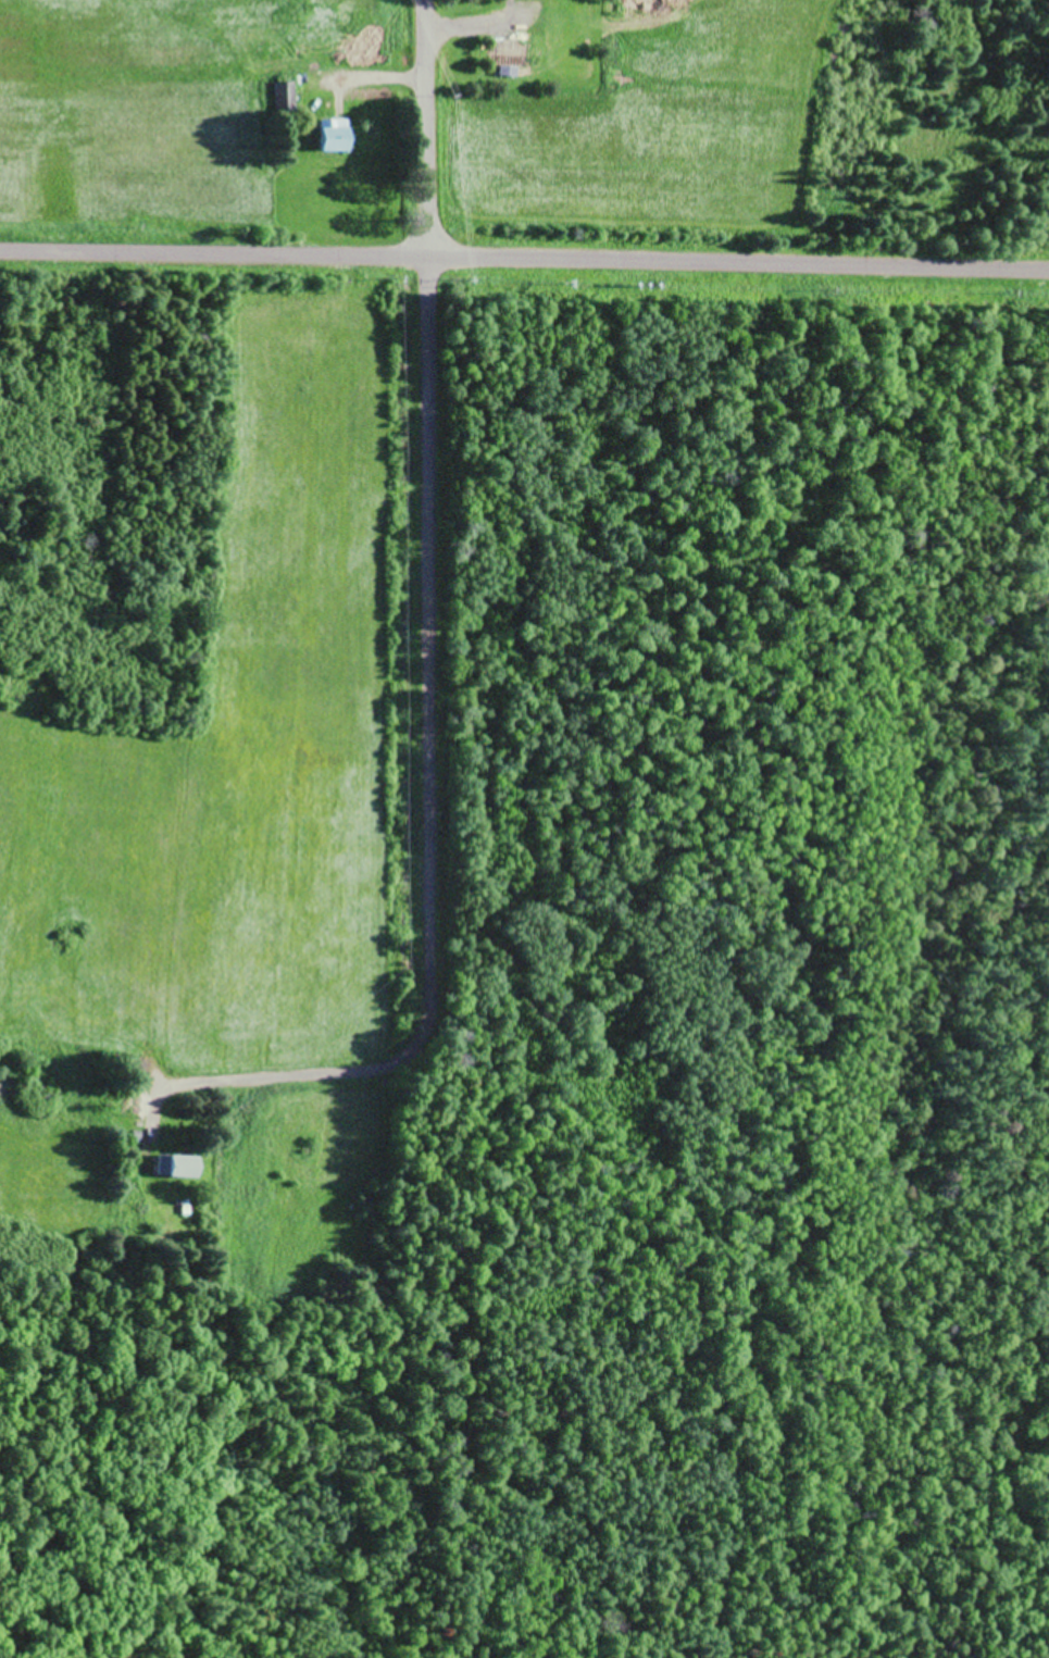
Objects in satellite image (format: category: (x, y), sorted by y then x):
building: (510, 57)
building: (284, 97)
building: (334, 135)
road: (426, 135)
road: (524, 270)
road: (427, 773)
building: (176, 1165)

